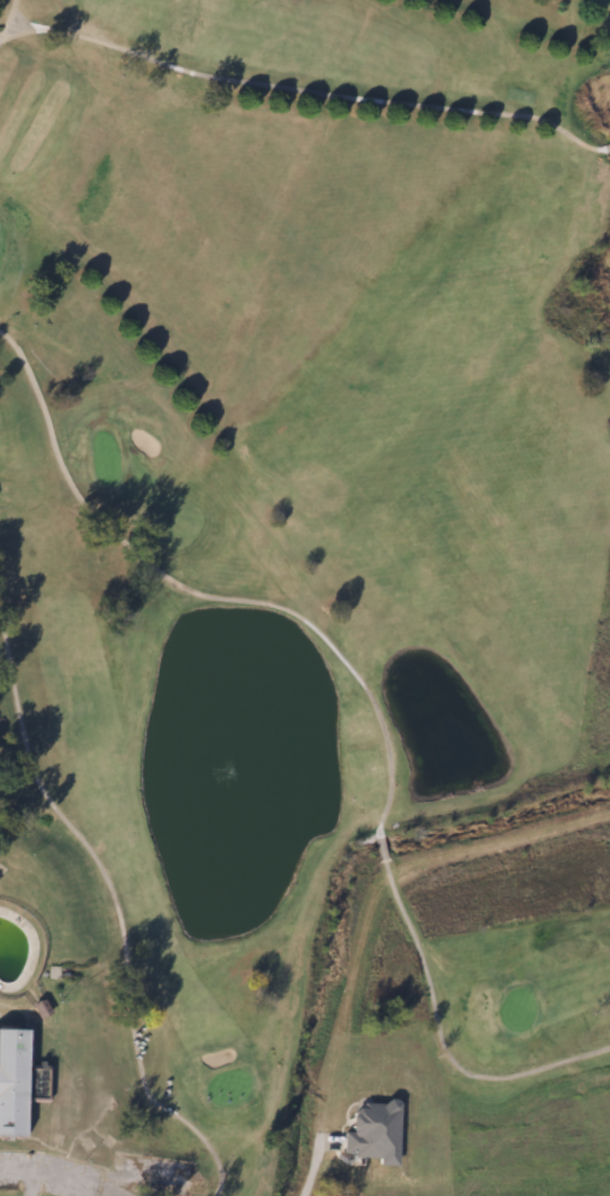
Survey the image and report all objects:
building: (10, 1081)
building: (367, 1131)
road: (34, 1168)

